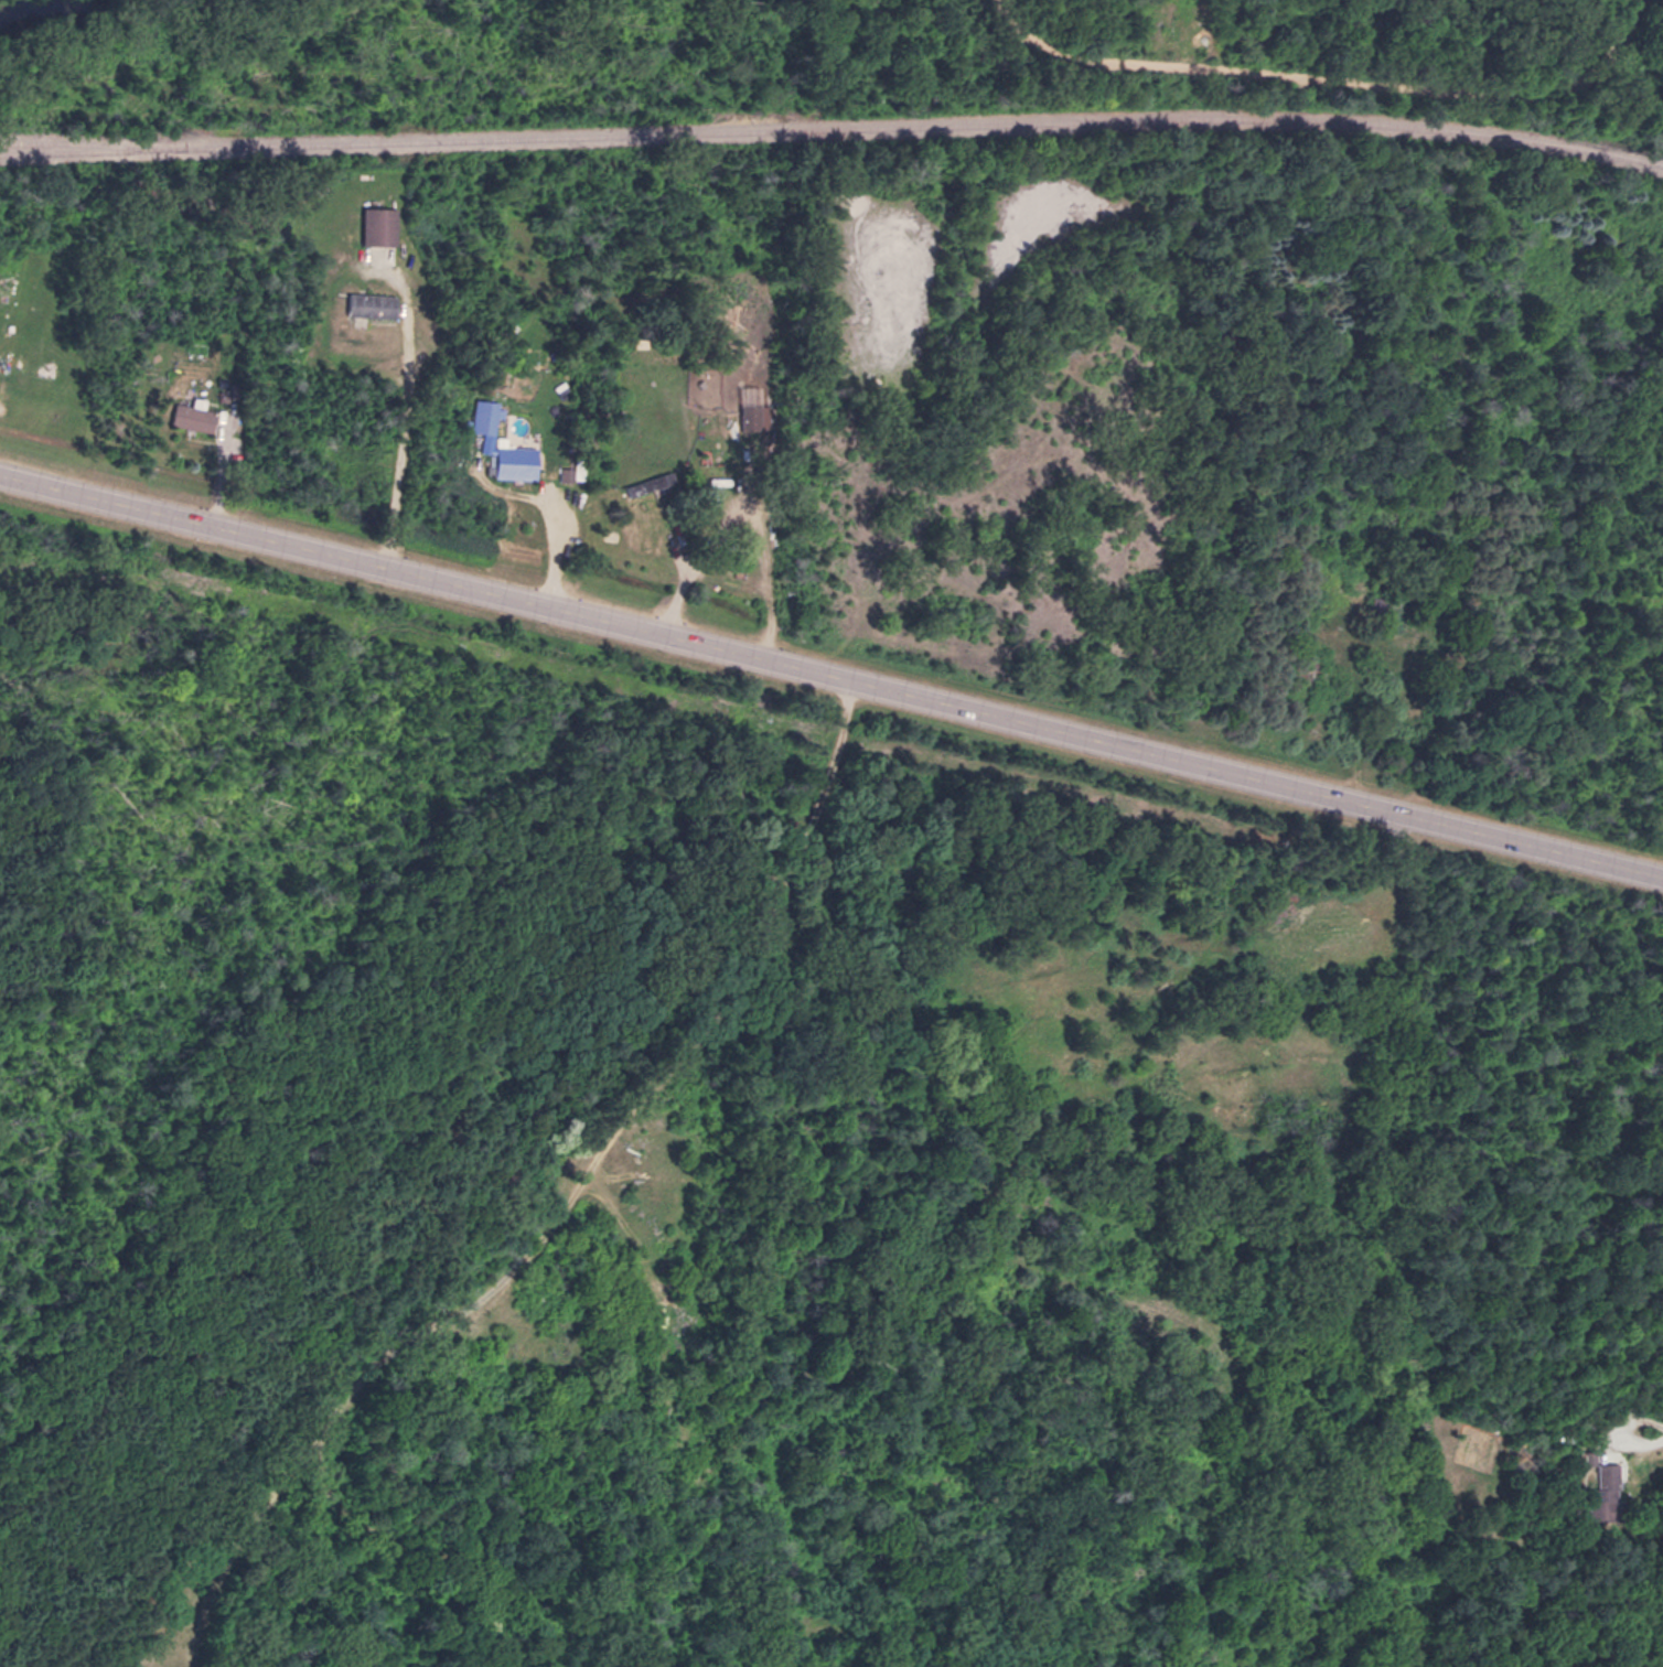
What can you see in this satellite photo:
railway: (833, 130)
railway: (78, 143)
building: (382, 224)
building: (372, 302)
building: (194, 415)
building: (485, 415)
building: (749, 417)
road: (397, 443)
building: (723, 451)
building: (518, 461)
building: (640, 487)
road: (550, 551)
road: (830, 681)
road: (1381, 1080)
road: (541, 1211)
road: (1642, 1438)
building: (1605, 1487)

